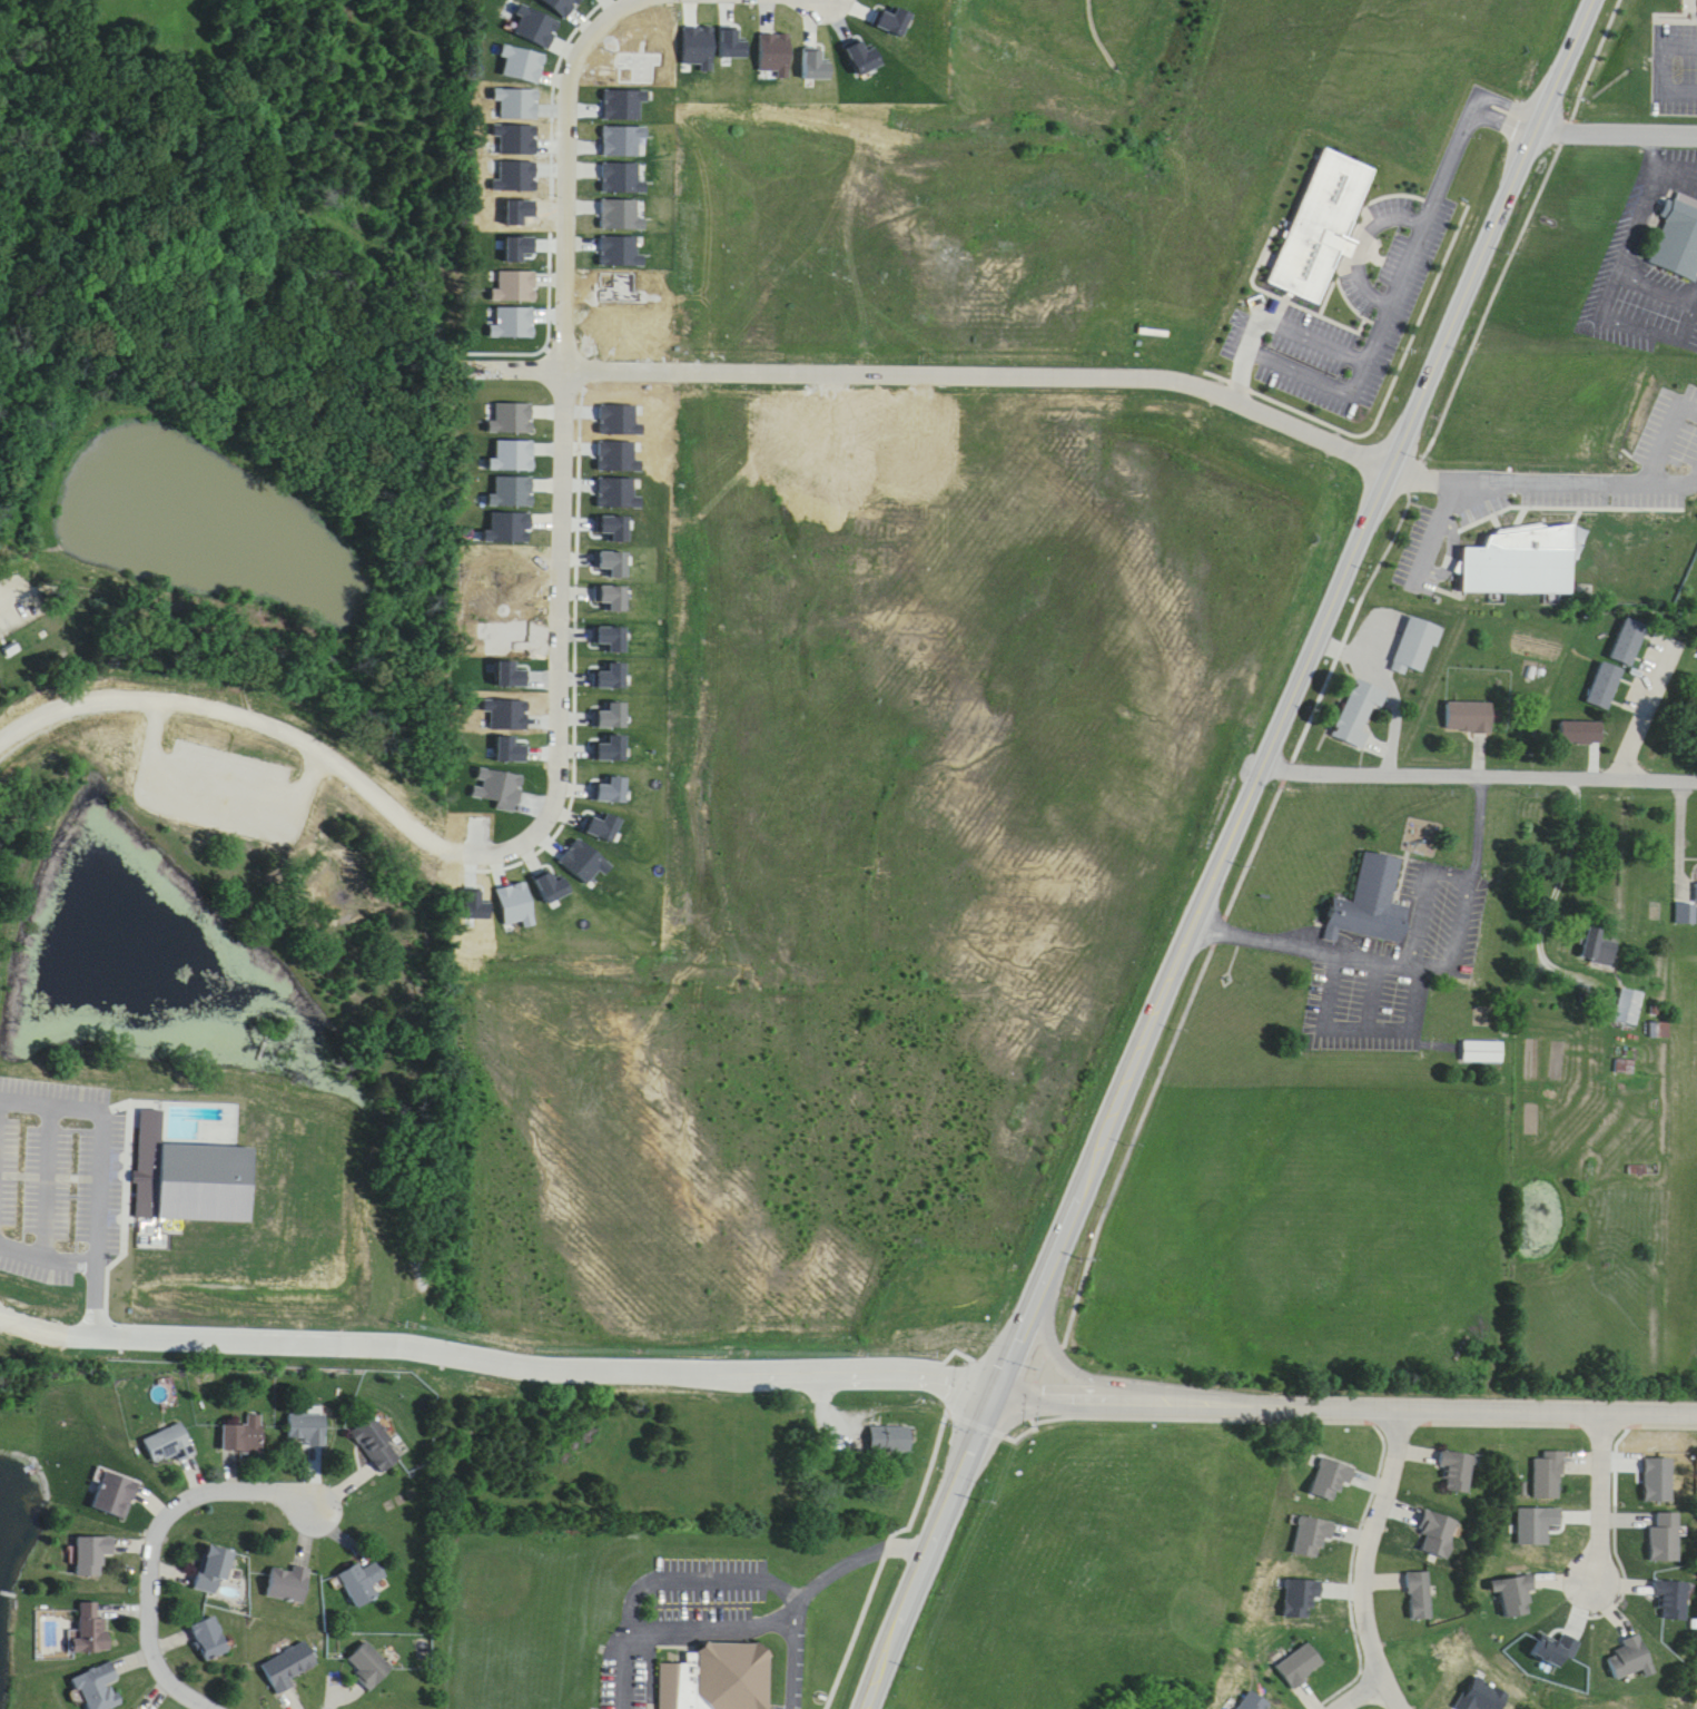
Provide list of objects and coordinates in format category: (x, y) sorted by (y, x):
road: (1659, 4)
road: (1678, 7)
road: (1664, 53)
parking lot: (1676, 55)
road: (1515, 108)
road: (1619, 119)
building: (1314, 212)
building: (1674, 224)
road: (1364, 233)
parking lot: (1652, 247)
parking lot: (1387, 292)
road: (1381, 316)
road: (1298, 318)
road: (944, 375)
road: (1389, 392)
road: (564, 444)
road: (1536, 480)
building: (1518, 554)
building: (1629, 641)
building: (1417, 646)
building: (1605, 686)
road: (1398, 693)
road: (1648, 699)
road: (241, 707)
building: (1360, 713)
building: (1470, 717)
building: (1580, 733)
road: (1484, 763)
road: (233, 777)
road: (221, 805)
road: (1480, 815)
parking lot: (237, 817)
road: (1226, 854)
road: (1565, 870)
road: (1430, 883)
building: (1365, 890)
road: (1226, 906)
road: (1467, 912)
road: (1243, 921)
road: (1326, 921)
park: (217, 923)
road: (1373, 942)
building: (1600, 950)
parking lot: (1402, 952)
road: (306, 957)
road: (1378, 979)
building: (1630, 1008)
road: (1367, 1013)
building: (1479, 1034)
building: (1484, 1052)
building: (1626, 1067)
building: (30, 1120)
road: (111, 1123)
building: (1644, 1170)
parking lot: (42, 1179)
water park: (175, 1188)
road: (53, 1245)
road: (108, 1287)
road: (493, 1357)
road: (1344, 1392)
road: (1202, 1404)
road: (1536, 1412)
building: (796, 1424)
building: (306, 1430)
building: (244, 1436)
building: (891, 1438)
building: (377, 1444)
building: (170, 1445)
building: (1459, 1472)
building: (1551, 1476)
road: (1599, 1483)
building: (114, 1494)
road: (1614, 1519)
road: (156, 1545)
road: (859, 1545)
building: (93, 1555)
road: (1368, 1555)
road: (698, 1565)
road: (1351, 1569)
building: (214, 1571)
parking lot: (709, 1583)
building: (363, 1584)
building: (289, 1585)
building: (1421, 1597)
building: (1517, 1597)
building: (1674, 1600)
road: (672, 1612)
building: (91, 1630)
building: (210, 1639)
road: (792, 1654)
building: (1632, 1660)
parking lot: (792, 1663)
building: (369, 1666)
building: (1302, 1666)
building: (707, 1667)
building: (289, 1668)
parking lot: (625, 1672)
building: (99, 1688)
road: (1355, 1688)
road: (324, 1707)

